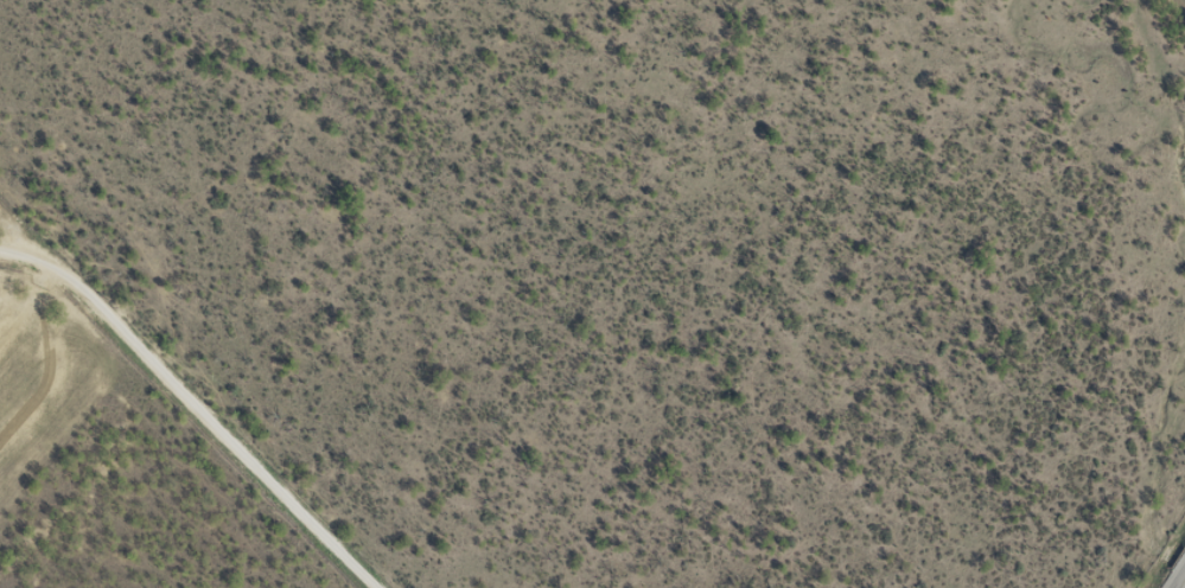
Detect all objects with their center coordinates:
road: (185, 427)
road: (1181, 583)

